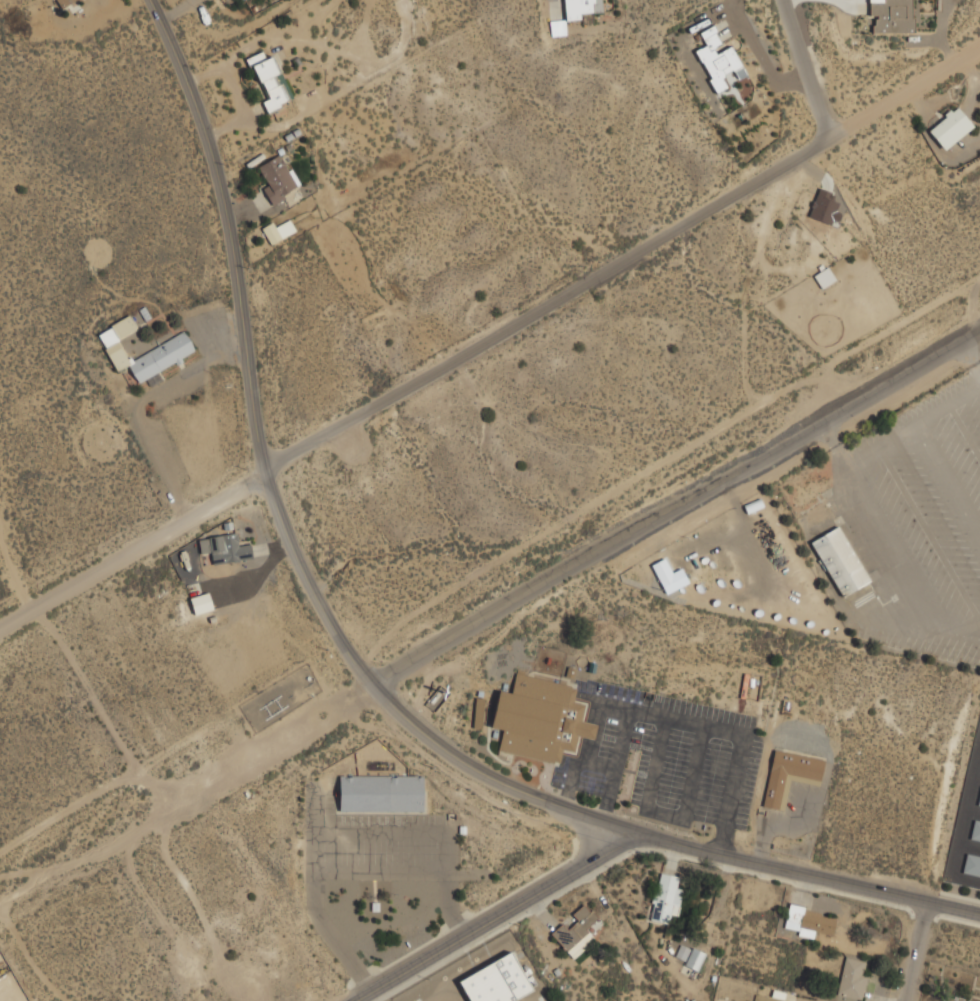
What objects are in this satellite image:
building: (63, 2)
building: (583, 8)
building: (893, 16)
building: (718, 59)
road: (807, 69)
building: (272, 80)
building: (951, 127)
building: (279, 179)
building: (823, 206)
building: (280, 230)
road: (622, 262)
building: (824, 277)
building: (175, 344)
road: (676, 508)
building: (813, 508)
building: (226, 547)
road: (131, 550)
building: (841, 560)
road: (11, 574)
building: (674, 579)
building: (201, 602)
road: (351, 657)
building: (541, 718)
building: (790, 774)
road: (186, 793)
building: (382, 793)
building: (979, 803)
building: (979, 808)
building: (976, 834)
building: (972, 867)
building: (667, 897)
building: (810, 920)
road: (494, 921)
building: (577, 928)
road: (917, 951)
building: (696, 958)
building: (854, 977)
building: (497, 981)
building: (765, 998)
building: (953, 998)

